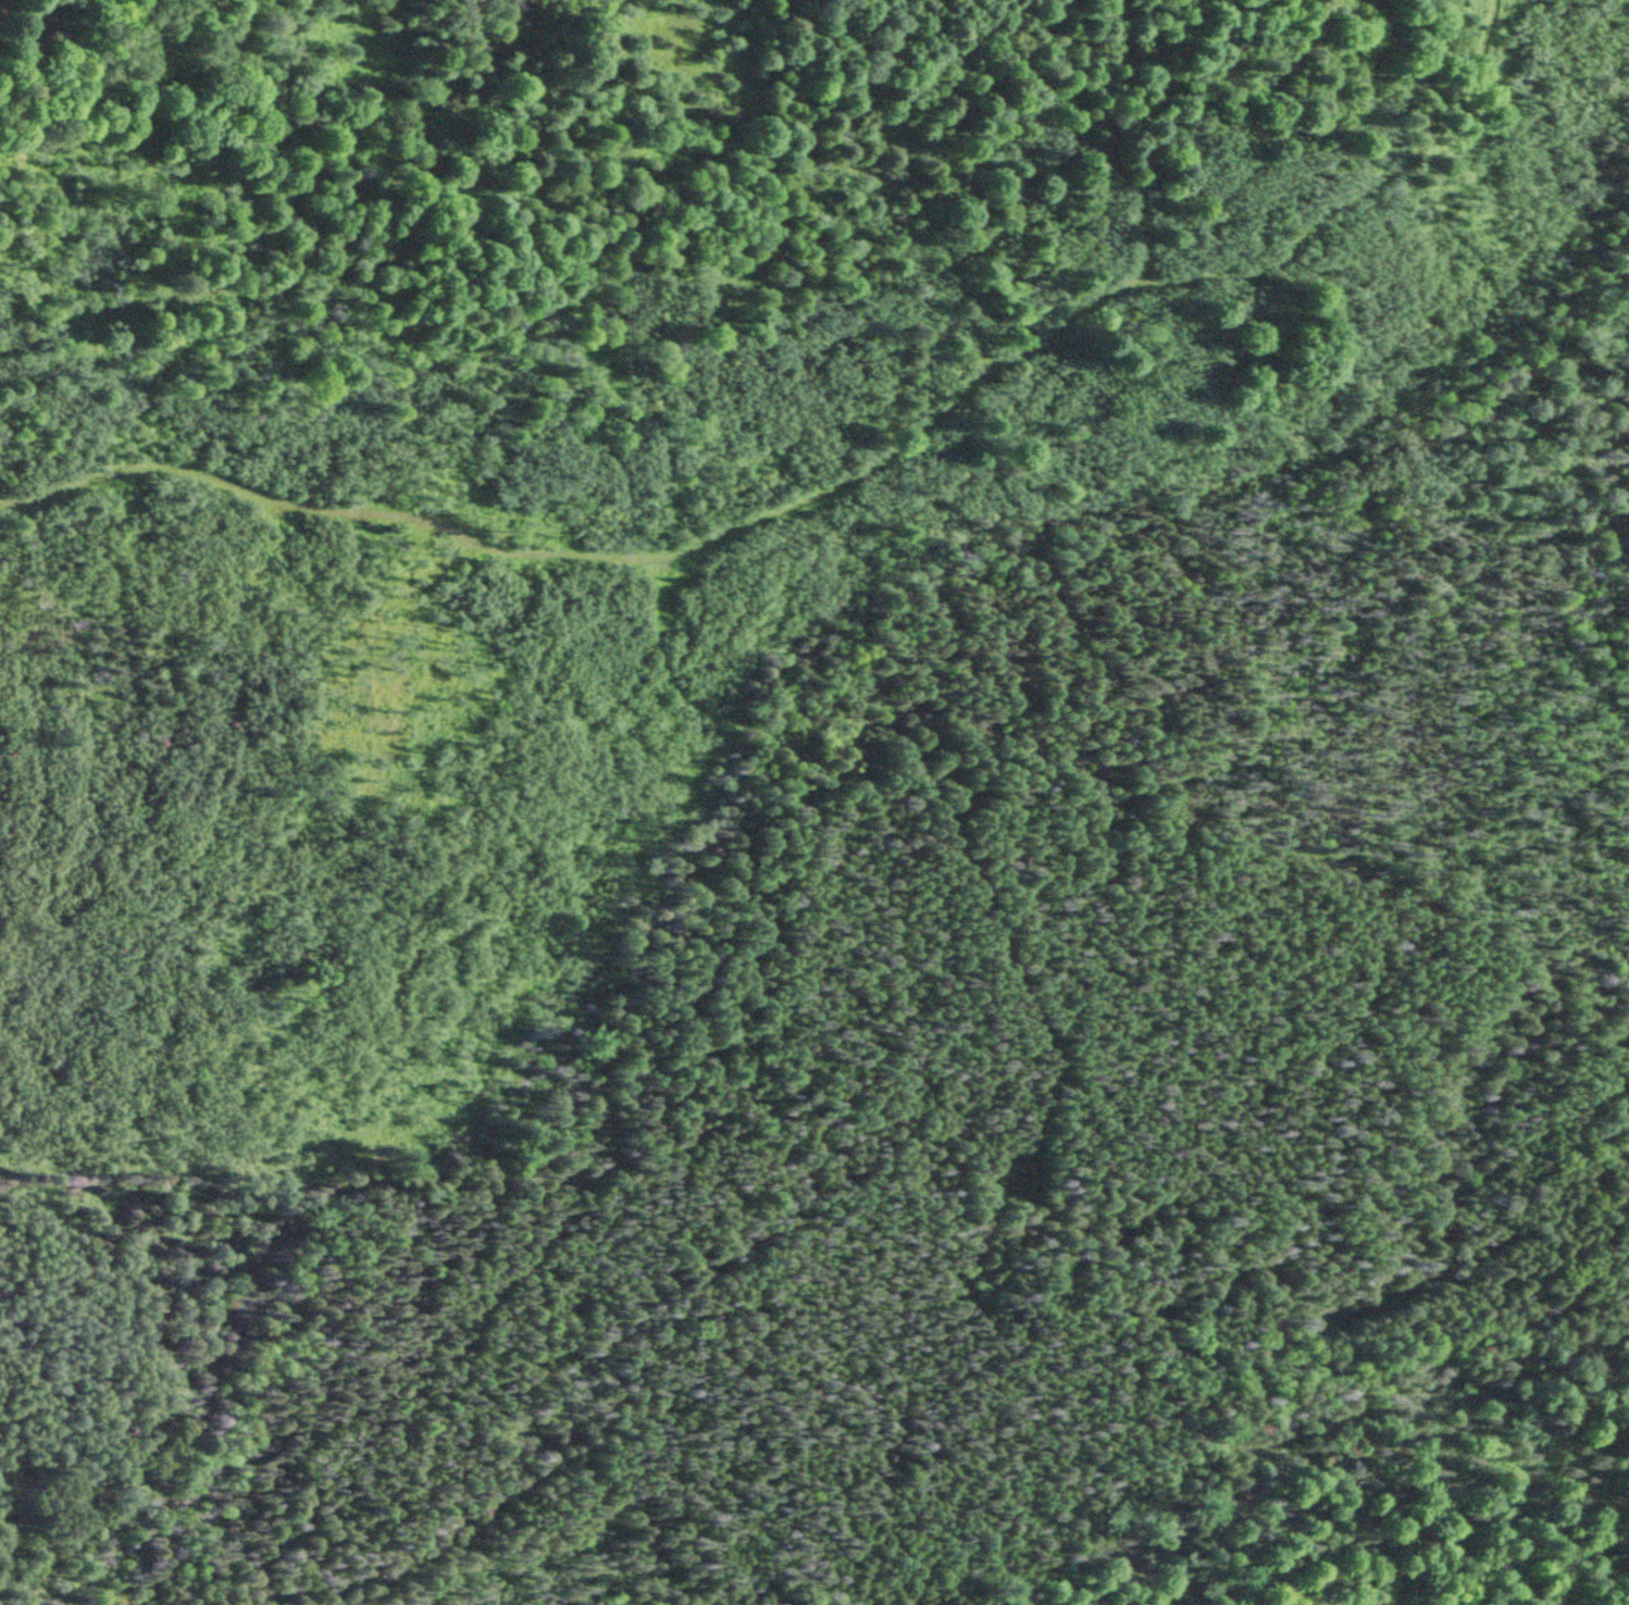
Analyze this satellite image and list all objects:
road: (293, 47)

